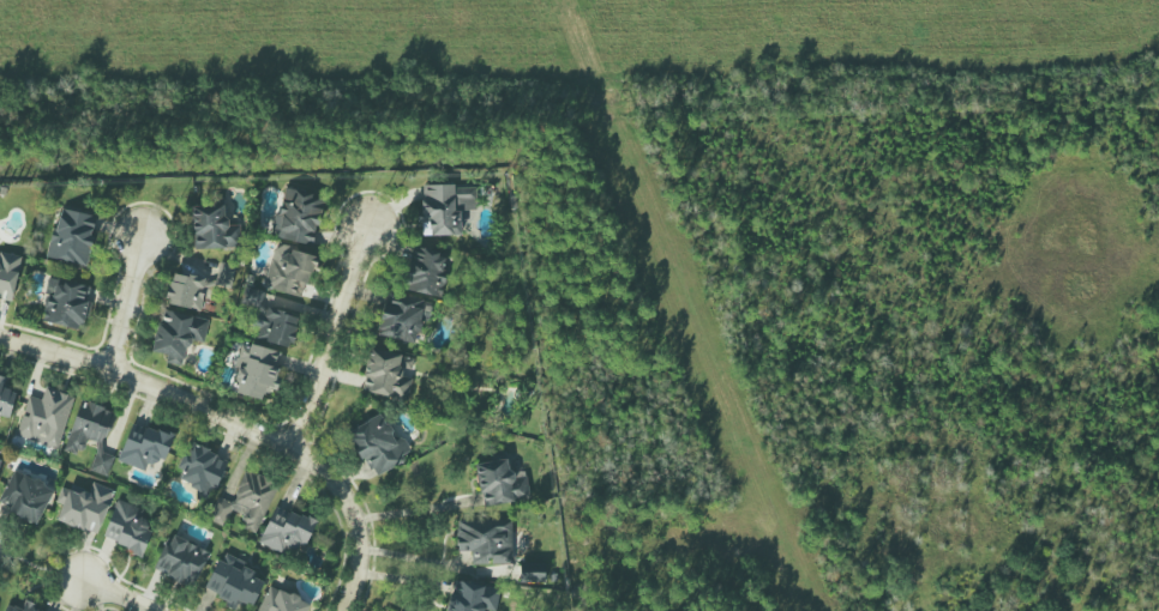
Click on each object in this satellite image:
building: (445, 208)
building: (296, 216)
building: (212, 229)
building: (72, 236)
building: (289, 271)
building: (425, 271)
building: (8, 276)
building: (186, 291)
road: (124, 302)
building: (65, 303)
building: (401, 320)
building: (178, 335)
road: (329, 335)
building: (256, 371)
building: (386, 374)
building: (5, 400)
building: (46, 417)
road: (235, 423)
building: (89, 425)
building: (378, 444)
building: (144, 446)
building: (101, 462)
building: (200, 470)
building: (500, 483)
building: (25, 497)
building: (246, 502)
building: (84, 507)
road: (409, 510)
building: (126, 527)
building: (287, 531)
building: (486, 542)
building: (181, 561)
road: (40, 567)
building: (532, 573)
building: (234, 581)
road: (110, 595)
building: (472, 597)
building: (281, 601)
park: (371, 605)
building: (23, 607)

